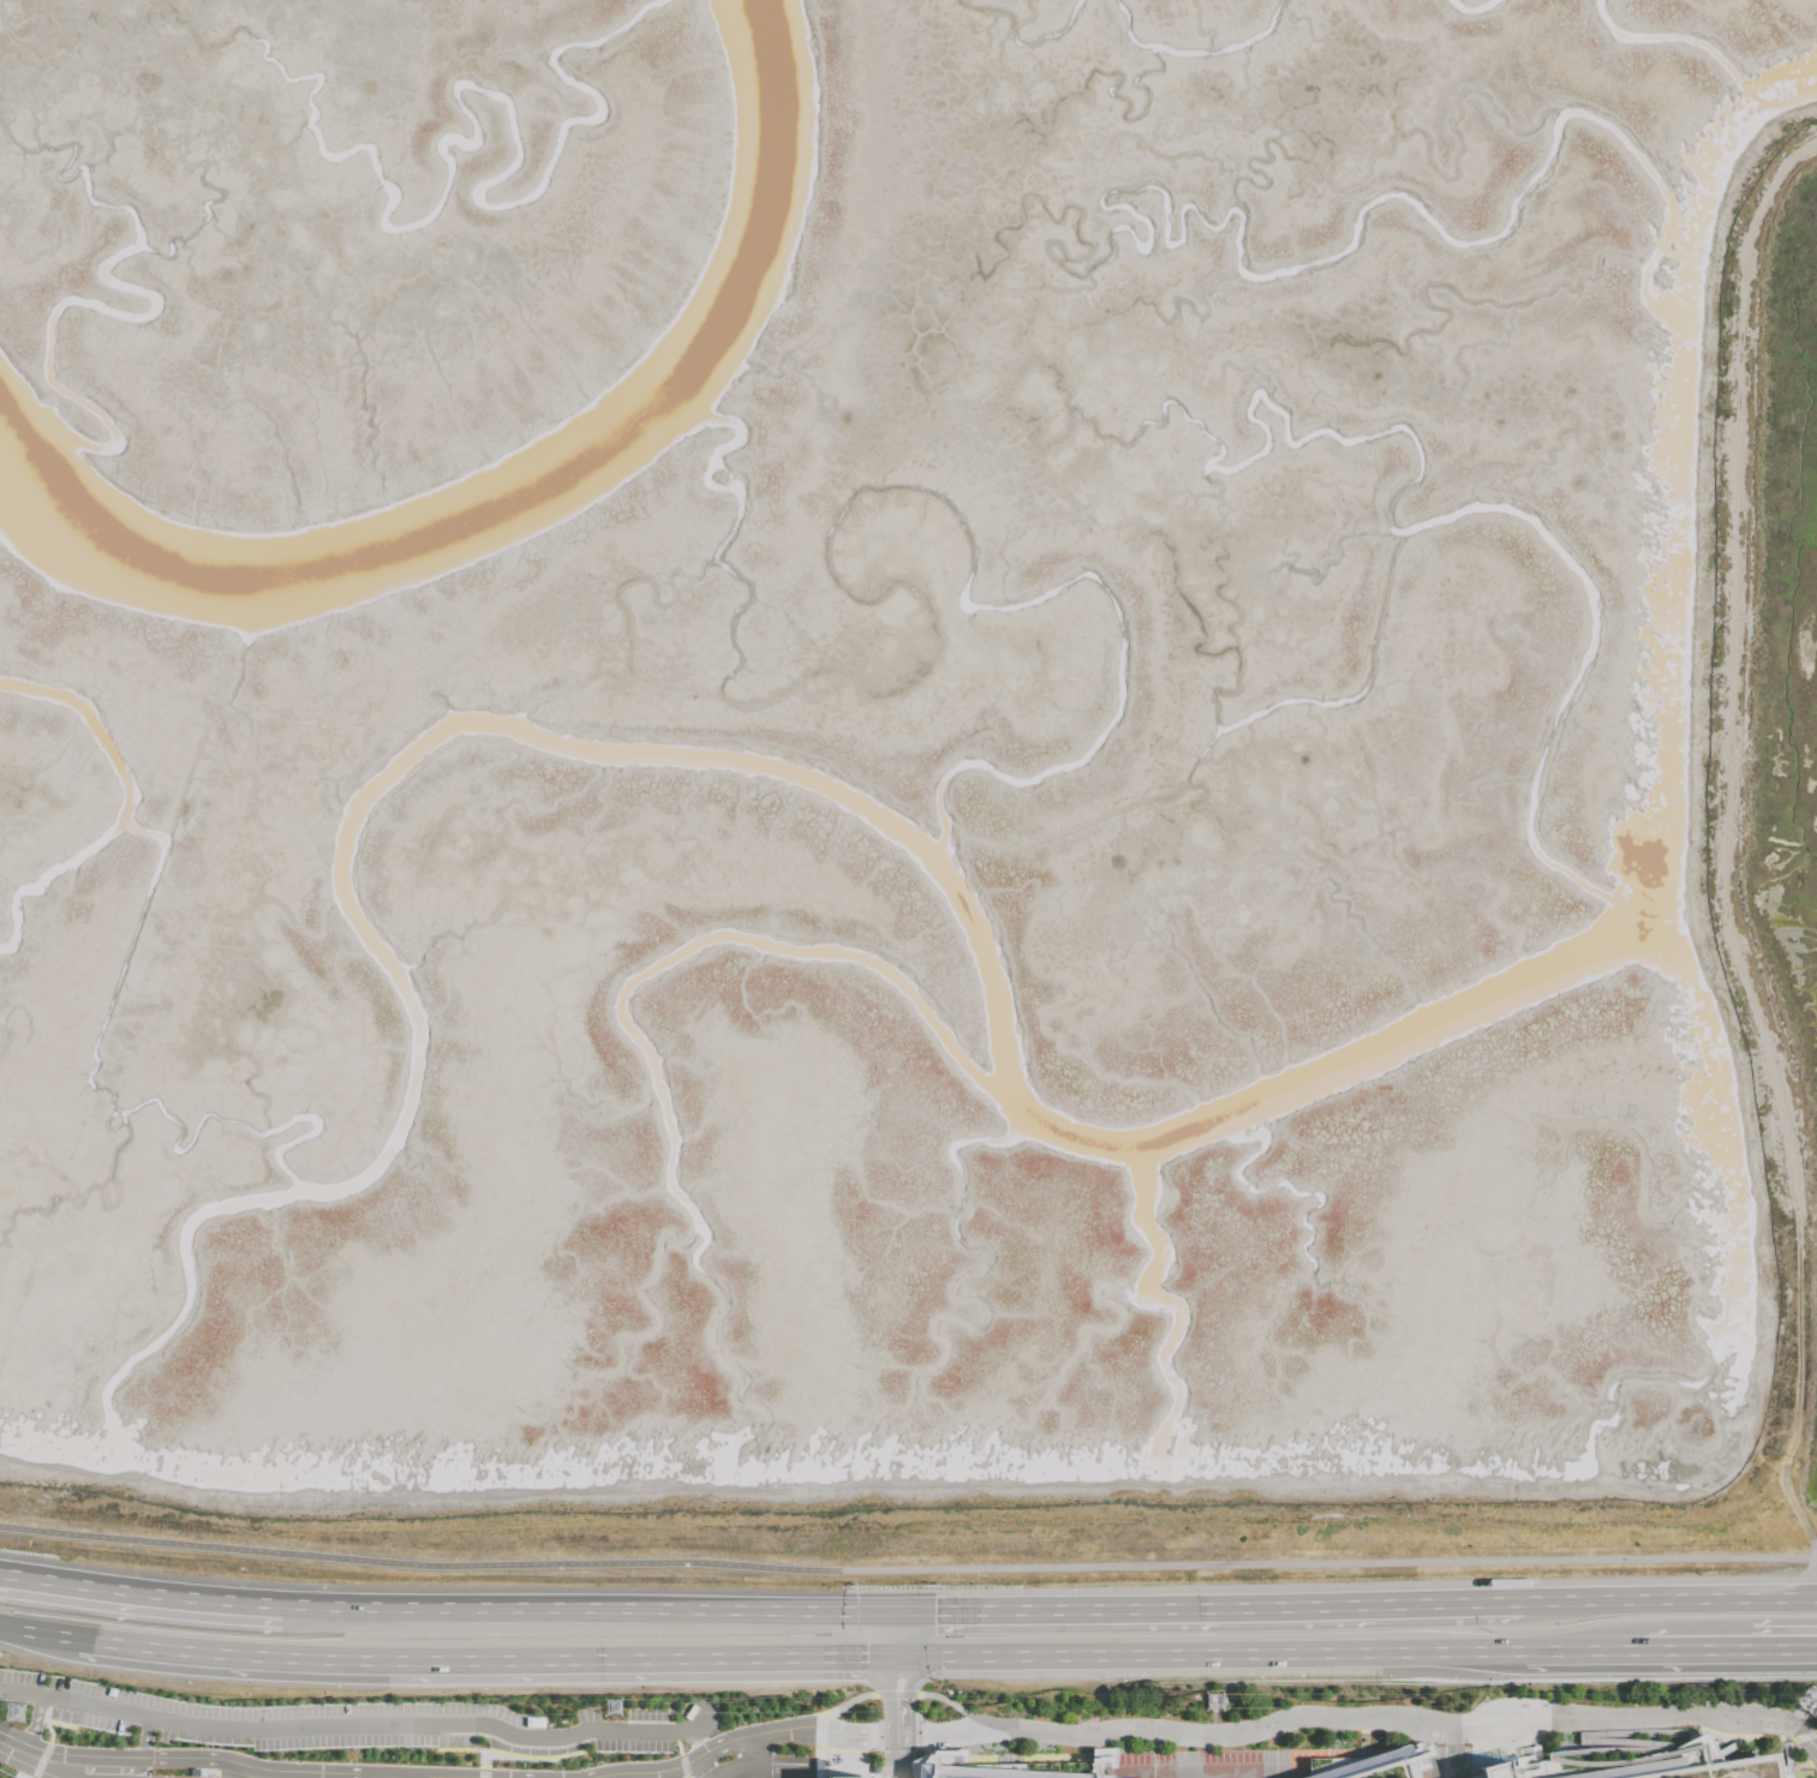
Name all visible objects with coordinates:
road: (1800, 1511)
road: (1590, 1529)
road: (907, 1569)
road: (139, 1603)
road: (1675, 1603)
road: (1219, 1610)
traffic signals: (933, 1615)
road: (591, 1617)
road: (36, 1635)
road: (895, 1636)
road: (1686, 1651)
road: (1782, 1651)
road: (1571, 1652)
road: (1269, 1656)
road: (954, 1658)
traffic signals: (866, 1659)
road: (478, 1663)
street lamp: (23, 1669)
road: (908, 1681)
road: (886, 1682)
road: (19, 1692)
road: (893, 1694)
park: (1327, 1695)
traffic signals: (899, 1699)
street lamp: (361, 1701)
road: (844, 1704)
power tower: (1217, 1704)
street lamp: (501, 1705)
power tower: (611, 1705)
park: (933, 1710)
road: (958, 1710)
power tower: (22, 1711)
road: (1673, 1711)
park: (861, 1712)
road: (896, 1719)
parking lot: (354, 1722)
road: (32, 1724)
road: (46, 1724)
road: (371, 1724)
street lamp: (42, 1726)
road: (1787, 1729)
road: (818, 1731)
road: (1807, 1731)
road: (1223, 1734)
road: (739, 1737)
road: (1805, 1737)
park: (1332, 1738)
road: (143, 1742)
road: (677, 1743)
street lamp: (208, 1746)
street lamp: (404, 1748)
street lamp: (349, 1749)
road: (464, 1749)
park: (1765, 1749)
road: (818, 1752)
road: (1454, 1752)
street lamp: (282, 1753)
street lamp: (464, 1753)
road: (896, 1756)
road: (193, 1758)
road: (41, 1759)
road: (531, 1759)
street lamp: (519, 1762)
parking lot: (1199, 1762)
road: (62, 1764)
building: (1692, 1765)
road: (682, 1766)
road: (701, 1766)
building: (1374, 1766)
road: (1379, 1767)
parking lot: (1590, 1768)
park: (1722, 1768)
street lamp: (151, 1770)
road: (482, 1770)
building: (1490, 1771)
road: (11, 1772)
road: (136, 1772)
building: (193, 1772)
building: (990, 1772)
road: (473, 1773)
parking lot: (706, 1773)
road: (931, 1773)
park: (1385, 1773)
park: (1811, 1773)
building: (5, 1774)
road: (1719, 1776)
parking lot: (1734, 1776)
building: (853, 1777)

